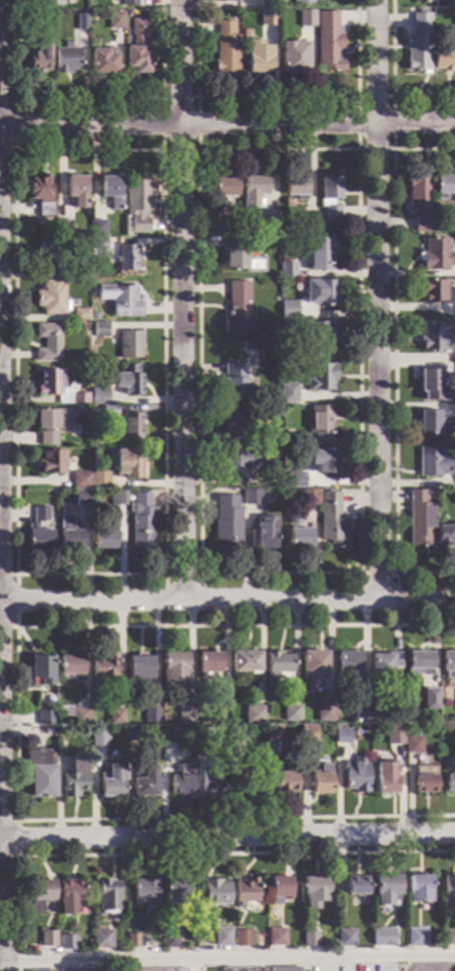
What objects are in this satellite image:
building: (305, 1)
building: (425, 1)
building: (50, 3)
building: (128, 3)
building: (266, 4)
building: (267, 19)
building: (305, 19)
building: (453, 20)
building: (113, 21)
building: (79, 23)
building: (328, 43)
building: (418, 44)
building: (137, 49)
building: (38, 50)
building: (225, 50)
building: (443, 57)
building: (292, 59)
building: (64, 60)
building: (100, 63)
building: (257, 63)
road: (227, 125)
building: (294, 186)
building: (443, 187)
building: (75, 191)
building: (252, 191)
building: (109, 192)
building: (39, 195)
building: (223, 196)
building: (329, 199)
building: (137, 203)
building: (418, 203)
building: (267, 224)
building: (306, 227)
building: (61, 228)
building: (452, 228)
building: (96, 229)
building: (96, 245)
building: (51, 254)
building: (320, 255)
building: (435, 256)
building: (240, 257)
building: (125, 259)
building: (286, 271)
building: (78, 274)
building: (319, 292)
building: (431, 292)
building: (48, 298)
road: (377, 299)
building: (120, 300)
road: (181, 300)
building: (236, 309)
building: (454, 309)
building: (288, 312)
building: (78, 316)
building: (93, 317)
building: (98, 330)
building: (430, 339)
building: (318, 340)
building: (46, 344)
building: (128, 345)
building: (247, 350)
building: (319, 378)
building: (126, 380)
building: (429, 382)
building: (233, 383)
building: (58, 389)
building: (287, 395)
building: (98, 397)
building: (107, 412)
building: (269, 412)
building: (320, 424)
building: (430, 424)
building: (235, 425)
building: (49, 426)
building: (128, 426)
building: (322, 462)
building: (48, 464)
building: (238, 465)
building: (434, 466)
building: (127, 467)
building: (79, 480)
building: (98, 481)
building: (292, 481)
building: (453, 497)
building: (250, 498)
building: (308, 498)
building: (115, 499)
building: (80, 500)
building: (38, 515)
building: (417, 520)
building: (329, 521)
building: (139, 523)
building: (225, 524)
building: (67, 535)
building: (261, 535)
building: (445, 536)
building: (297, 538)
building: (35, 539)
building: (101, 541)
road: (227, 599)
building: (243, 663)
building: (417, 664)
building: (346, 665)
building: (447, 665)
building: (207, 666)
building: (276, 666)
building: (381, 666)
building: (68, 668)
building: (310, 669)
building: (138, 670)
building: (100, 671)
building: (172, 671)
building: (39, 672)
building: (221, 694)
building: (428, 700)
building: (323, 712)
building: (359, 713)
building: (289, 714)
building: (183, 716)
building: (252, 716)
building: (79, 717)
building: (150, 717)
building: (114, 718)
building: (44, 719)
building: (270, 734)
building: (306, 734)
building: (393, 734)
building: (236, 735)
building: (132, 736)
building: (198, 736)
building: (166, 737)
building: (340, 737)
building: (454, 737)
building: (97, 739)
building: (411, 746)
building: (397, 758)
building: (39, 774)
building: (354, 776)
building: (73, 779)
building: (423, 780)
building: (319, 781)
building: (110, 782)
building: (283, 782)
building: (144, 783)
building: (210, 783)
building: (449, 784)
building: (180, 785)
building: (384, 785)
road: (0, 786)
building: (250, 787)
road: (227, 840)
building: (355, 886)
building: (277, 890)
building: (384, 890)
building: (417, 890)
building: (143, 892)
building: (173, 892)
building: (313, 892)
building: (448, 892)
building: (214, 893)
building: (243, 893)
building: (38, 895)
building: (67, 896)
building: (106, 896)
building: (220, 938)
building: (274, 938)
building: (379, 938)
building: (447, 938)
building: (241, 939)
building: (344, 939)
building: (414, 939)
building: (46, 940)
building: (100, 940)
building: (308, 940)
building: (131, 941)
building: (168, 942)
building: (65, 944)
road: (228, 958)
road: (446, 963)
road: (414, 964)
building: (41, 970)
building: (81, 970)
building: (164, 970)
building: (243, 970)
building: (283, 970)

